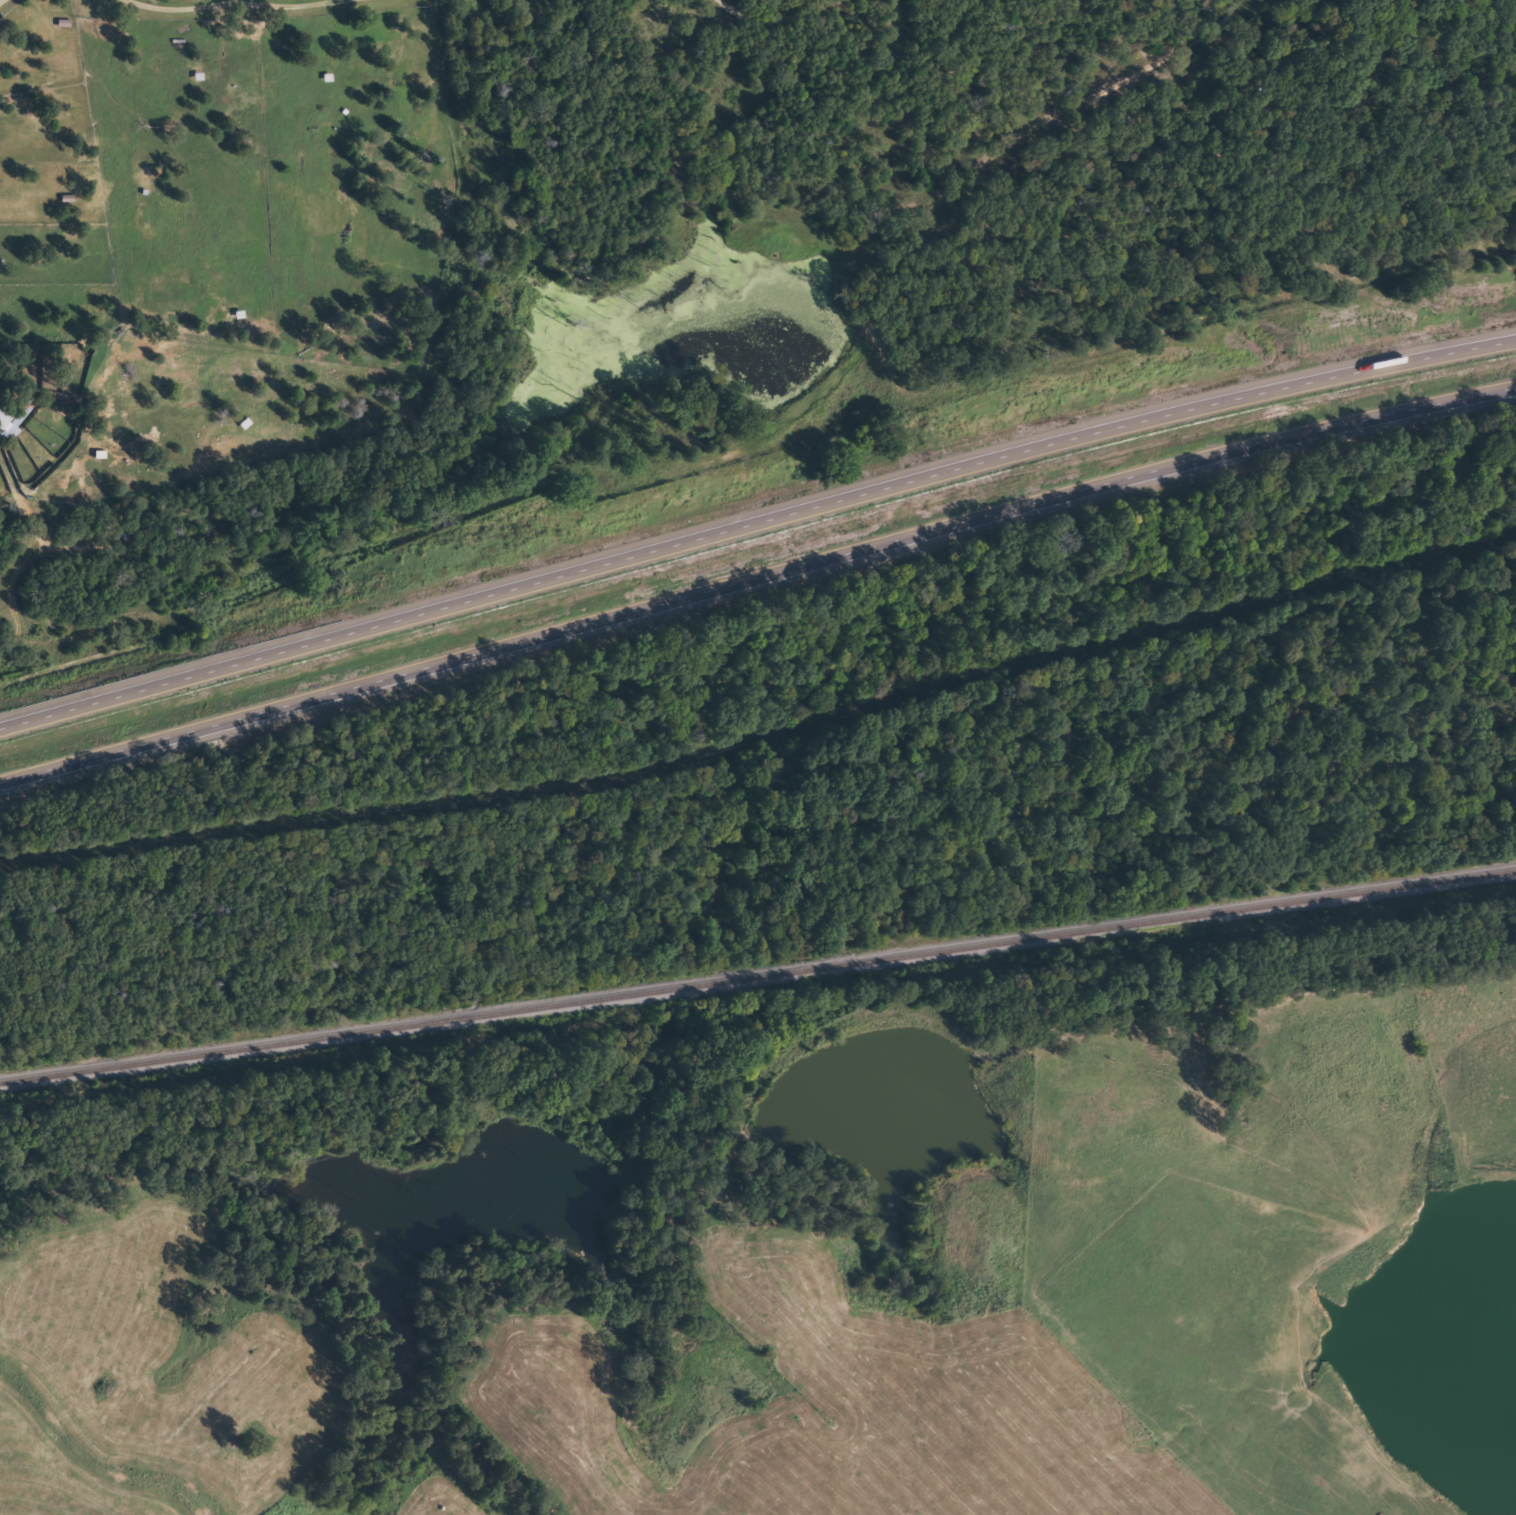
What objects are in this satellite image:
road: (175, 0)
road: (773, 11)
building: (3, 418)
road: (755, 515)
road: (756, 580)
railway: (757, 973)

